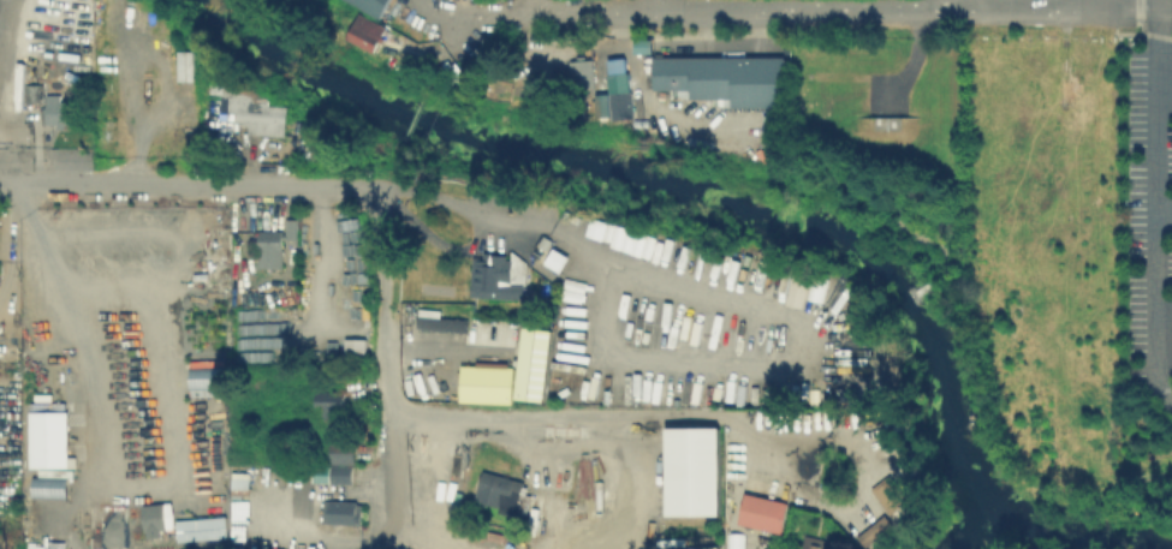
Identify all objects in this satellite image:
road: (529, 4)
road: (655, 4)
road: (1112, 4)
building: (369, 5)
road: (1141, 5)
road: (655, 7)
road: (953, 7)
road: (470, 25)
building: (363, 31)
building: (641, 44)
building: (184, 64)
building: (192, 67)
building: (213, 76)
building: (584, 78)
building: (731, 80)
building: (35, 90)
building: (621, 106)
building: (250, 109)
building: (60, 112)
road: (186, 185)
road: (1160, 203)
road: (1166, 217)
road: (475, 237)
road: (936, 240)
road: (4, 243)
building: (276, 245)
building: (500, 278)
building: (444, 322)
road: (442, 351)
road: (382, 354)
building: (537, 366)
building: (204, 381)
building: (260, 382)
building: (492, 387)
building: (329, 410)
road: (620, 416)
building: (48, 441)
building: (343, 453)
building: (320, 472)
building: (695, 473)
road: (1143, 473)
building: (343, 475)
road: (177, 484)
building: (47, 487)
building: (500, 491)
building: (892, 493)
building: (765, 511)
building: (343, 513)
building: (159, 519)
building: (877, 532)
road: (450, 535)
building: (814, 542)

